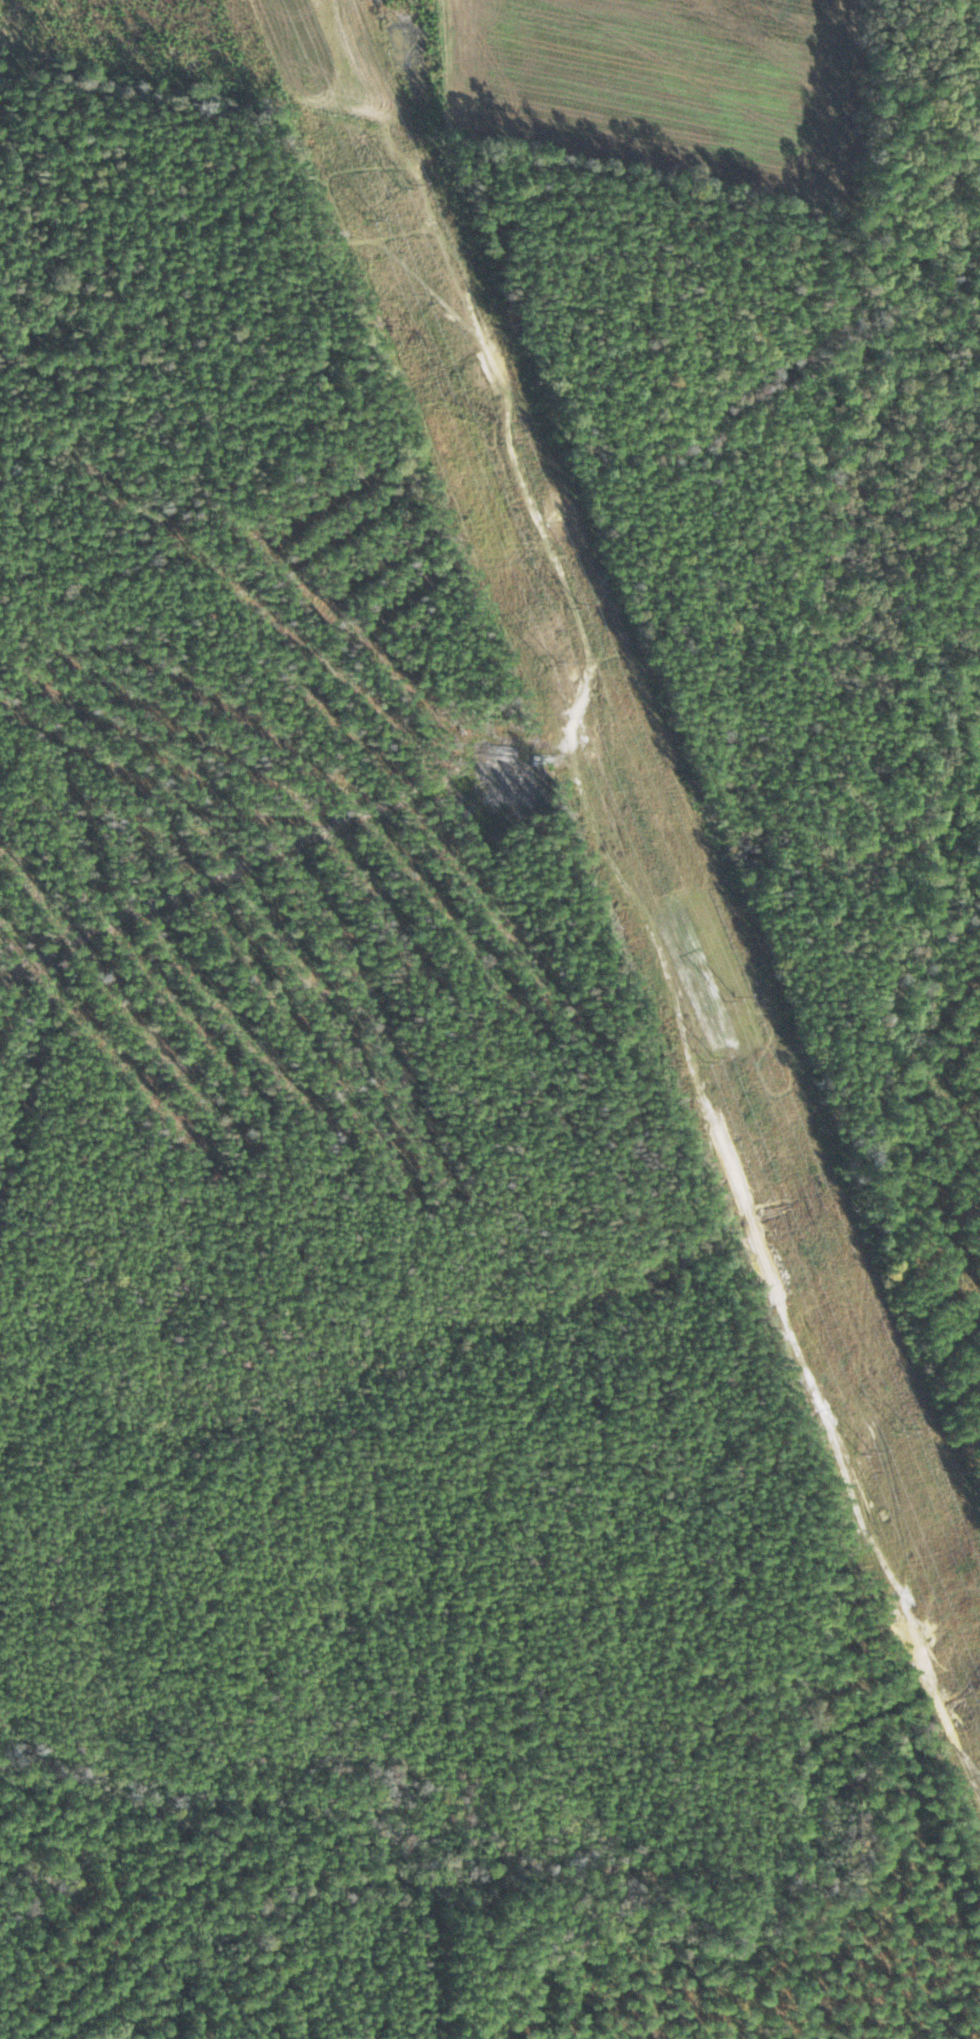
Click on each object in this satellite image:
power tower: (405, 185)
power tower: (372, 218)
power tower: (572, 604)
power tower: (547, 665)
power tower: (731, 998)
power tower: (710, 1058)
power tower: (906, 1431)
power tower: (866, 1450)

